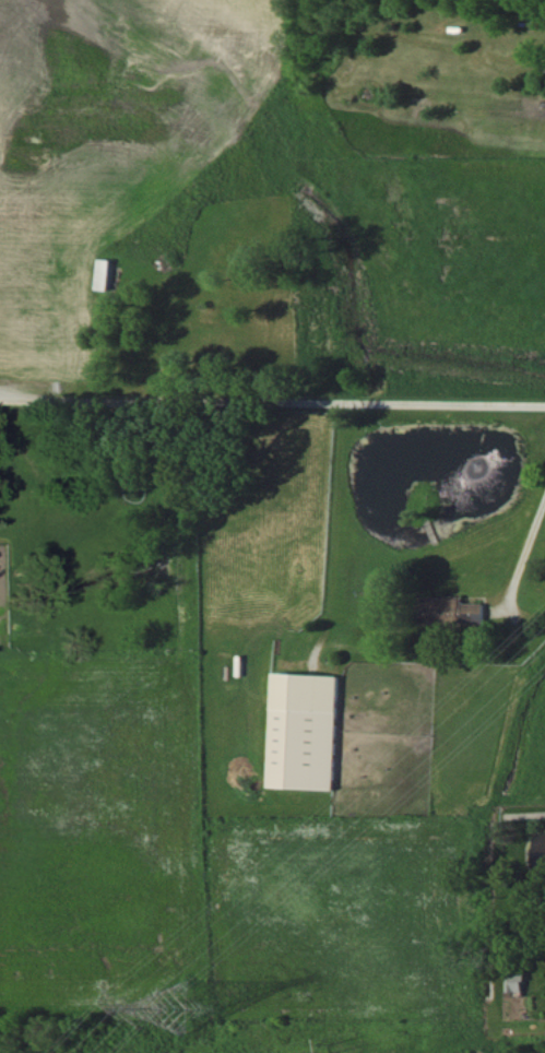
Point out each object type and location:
road: (272, 392)
road: (524, 553)
building: (463, 614)
building: (312, 734)
road: (528, 818)
power tower: (187, 1014)
power tower: (347, 1052)

